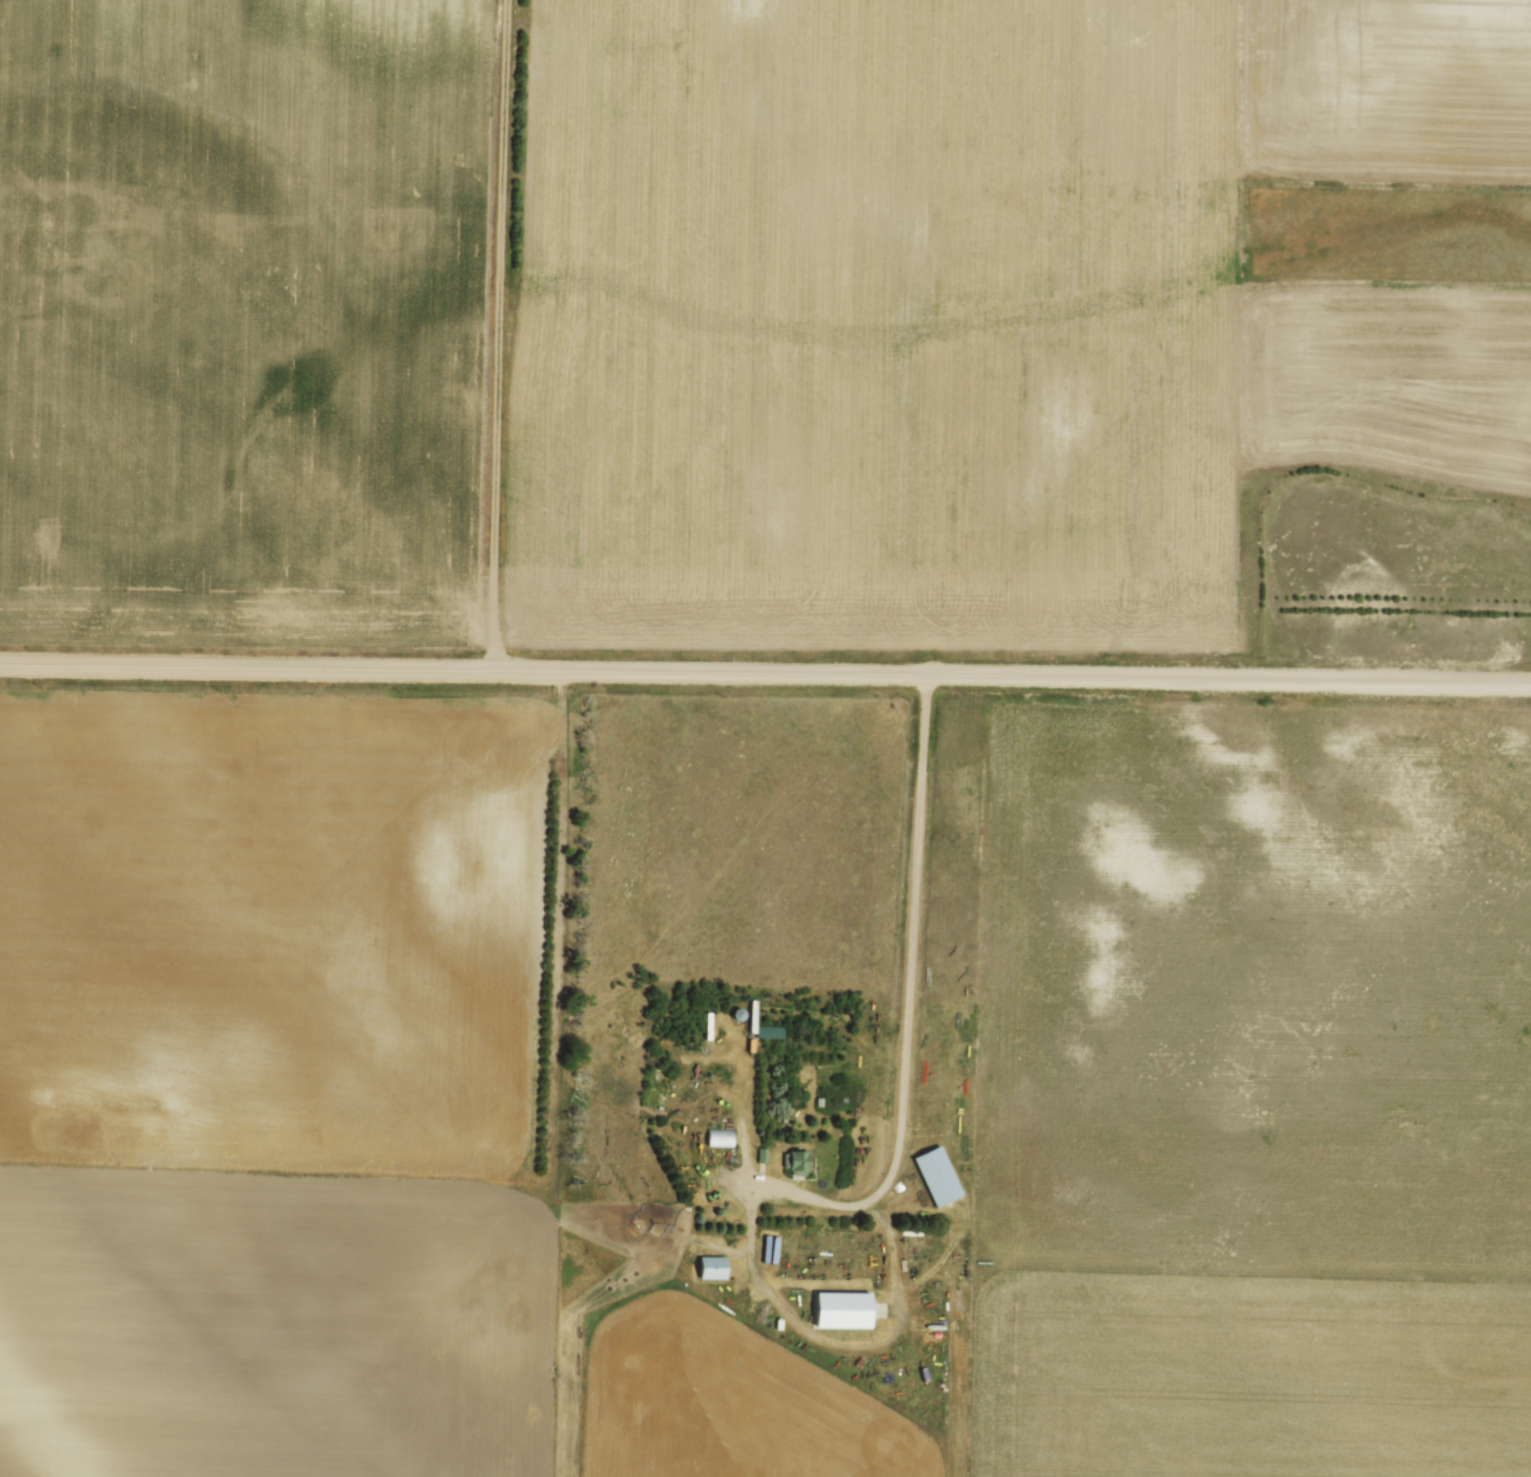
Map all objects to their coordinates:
crop: (969, 307)
crop: (243, 320)
road: (495, 333)
road: (765, 669)
road: (907, 1000)
building: (753, 1010)
silo: (737, 1012)
building: (708, 1023)
building: (819, 1099)
building: (719, 1136)
building: (762, 1153)
building: (796, 1159)
crop: (510, 1174)

